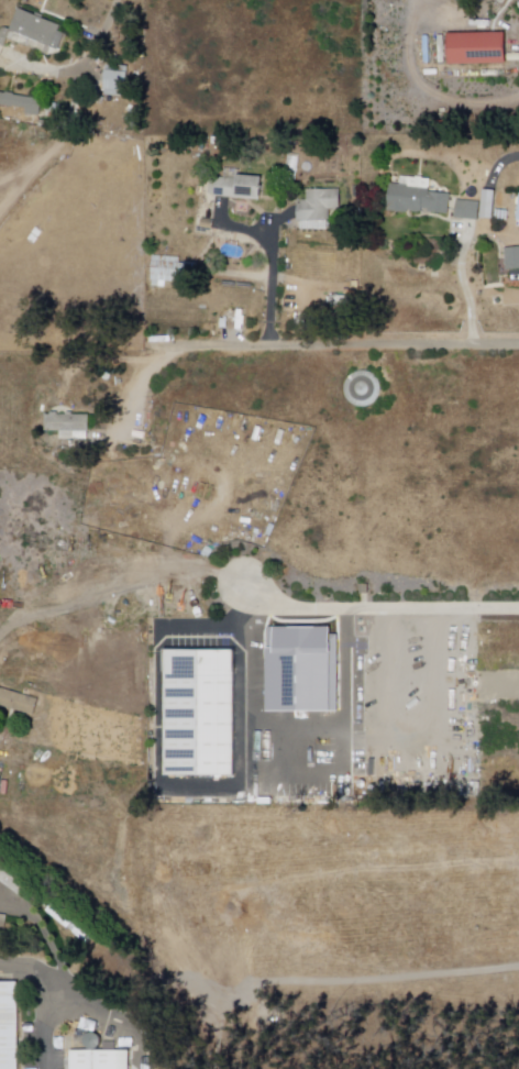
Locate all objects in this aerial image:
building: (508, 0)
building: (440, 3)
building: (32, 31)
building: (476, 47)
road: (82, 67)
building: (115, 80)
building: (22, 102)
building: (235, 185)
building: (416, 197)
building: (488, 201)
building: (317, 205)
building: (467, 209)
building: (512, 260)
building: (172, 272)
building: (402, 273)
road: (273, 285)
road: (465, 289)
road: (390, 350)
road: (169, 357)
building: (68, 427)
road: (380, 609)
building: (492, 686)
building: (18, 702)
building: (199, 715)
building: (19, 889)
building: (503, 890)
building: (2, 923)
building: (426, 929)
road: (66, 979)
building: (9, 1027)
building: (99, 1060)

